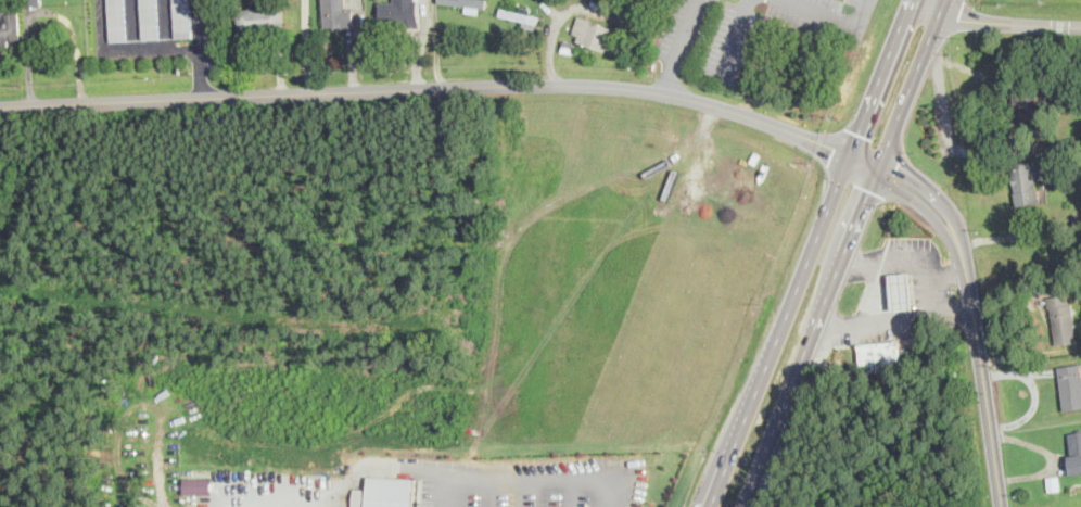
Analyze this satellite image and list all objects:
building: (31, 2)
building: (463, 3)
road: (906, 5)
building: (518, 12)
building: (398, 13)
building: (335, 14)
road: (559, 15)
building: (181, 17)
building: (149, 18)
building: (115, 20)
building: (260, 20)
road: (992, 21)
road: (835, 22)
road: (165, 23)
road: (199, 23)
road: (132, 24)
building: (9, 27)
building: (593, 33)
road: (732, 39)
road: (436, 43)
road: (421, 45)
road: (305, 46)
road: (679, 46)
road: (126, 48)
road: (201, 71)
road: (431, 88)
building: (1033, 103)
traffic signals: (859, 134)
traffic signals: (834, 148)
road: (865, 161)
traffic signals: (893, 175)
building: (1027, 180)
traffic signals: (869, 190)
road: (927, 199)
road: (843, 253)
road: (807, 259)
road: (946, 277)
building: (902, 290)
road: (878, 291)
road: (928, 300)
road: (951, 306)
building: (1063, 317)
building: (879, 355)
road: (982, 376)
building: (1070, 384)
building: (1074, 452)
road: (522, 474)
building: (196, 485)
road: (342, 489)
road: (525, 491)
building: (385, 492)

